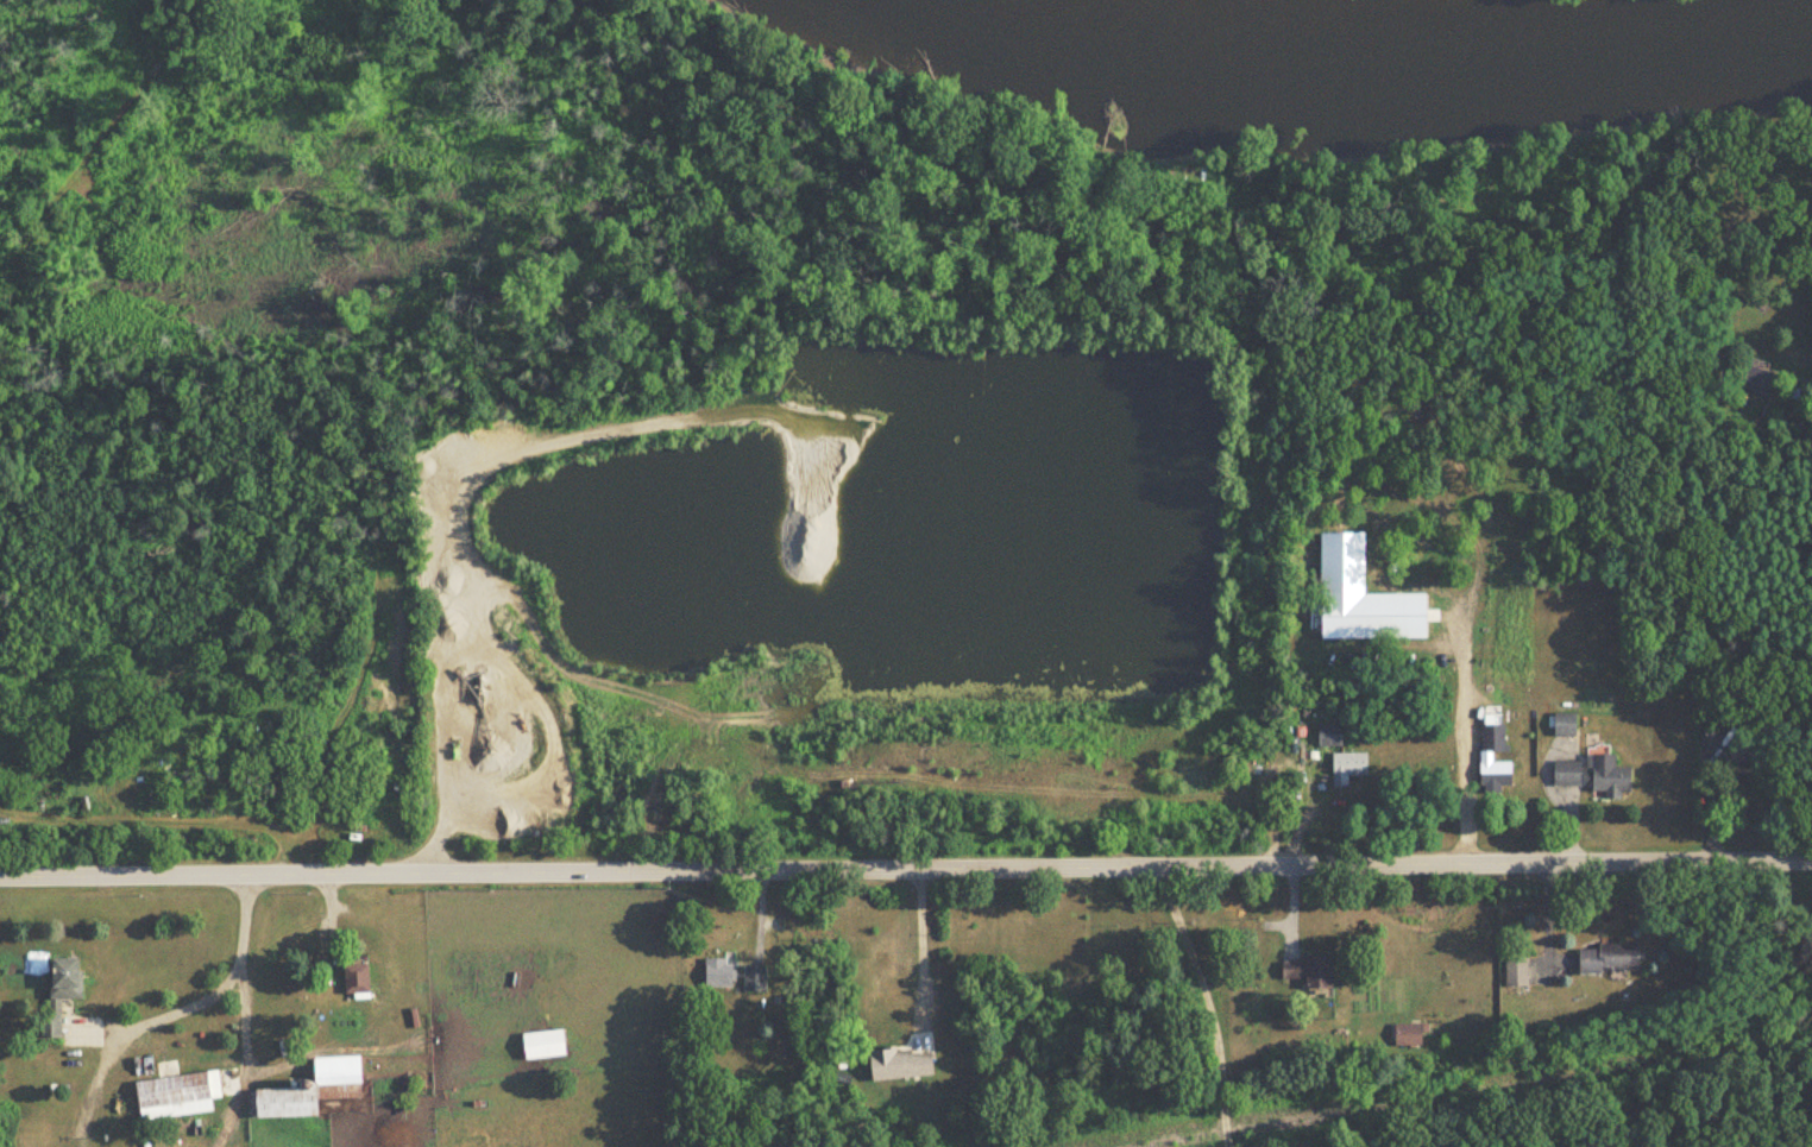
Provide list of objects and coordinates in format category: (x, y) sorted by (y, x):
river: (1432, 51)
building: (1454, 259)
building: (1751, 376)
road: (1808, 642)
building: (1562, 724)
building: (1328, 735)
building: (1484, 757)
building: (1348, 763)
road: (1460, 768)
building: (1737, 773)
building: (1565, 774)
building: (1605, 777)
road: (906, 870)
road: (919, 944)
building: (1606, 958)
building: (1308, 971)
building: (1514, 971)
building: (717, 972)
building: (354, 978)
building: (753, 978)
building: (58, 990)
road: (196, 997)
road: (1207, 1003)
building: (1407, 1034)
road: (240, 1036)
building: (541, 1045)
building: (304, 1088)
building: (175, 1095)
building: (1565, 1142)

